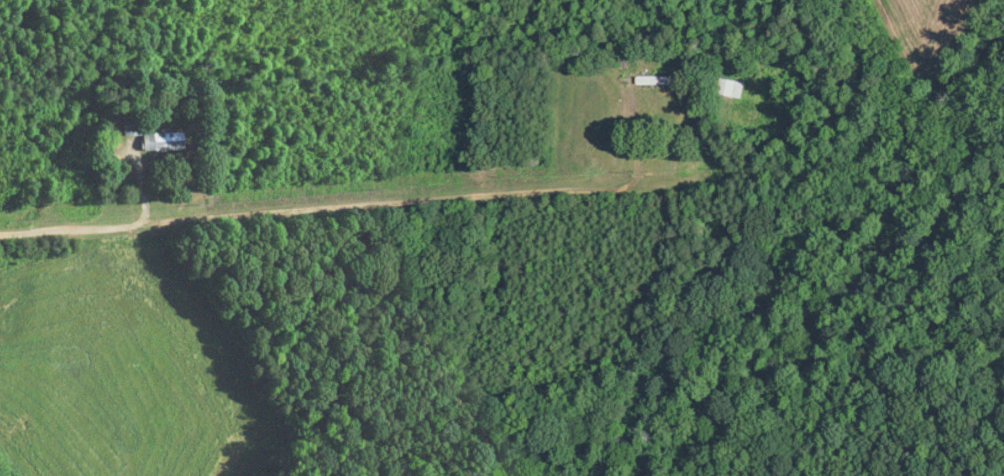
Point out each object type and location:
building: (657, 80)
building: (628, 82)
building: (732, 88)
building: (153, 136)
road: (327, 210)

